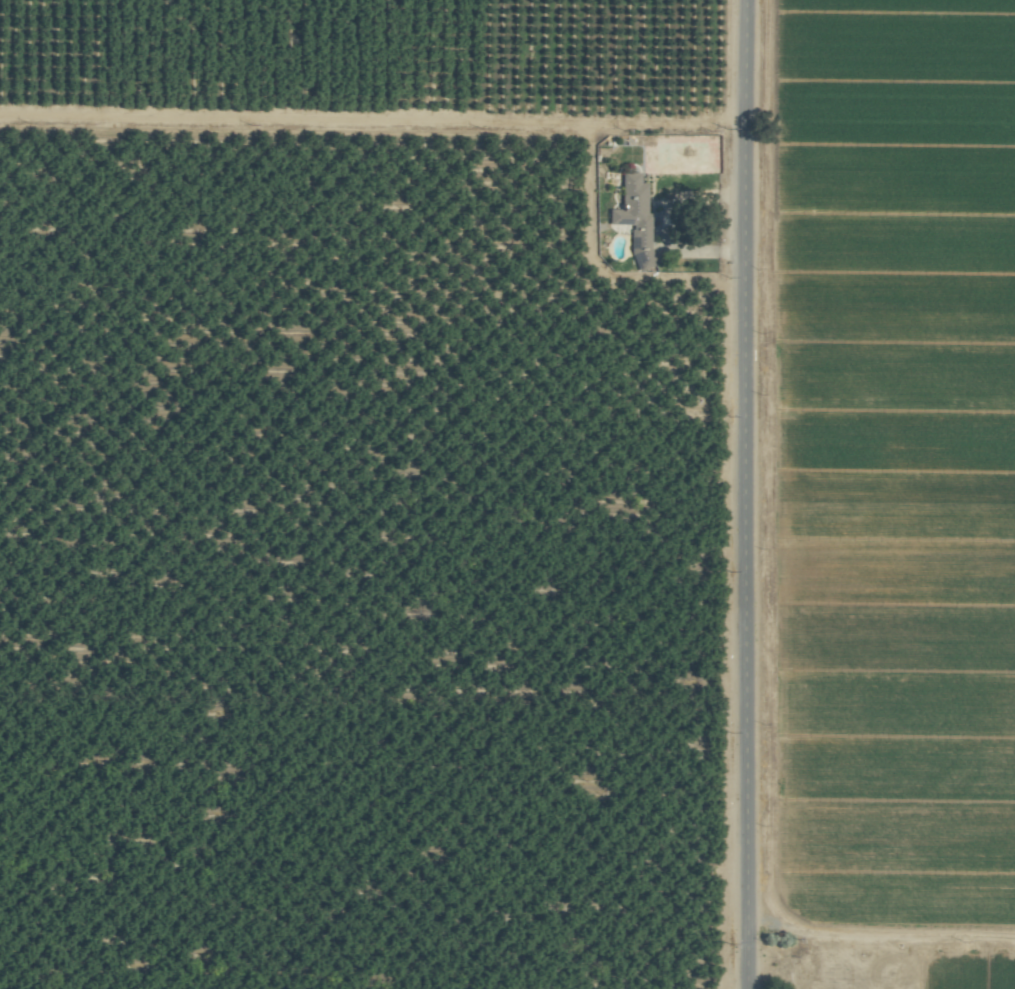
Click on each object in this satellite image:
road: (743, 109)
building: (633, 219)
crop: (507, 494)
road: (747, 604)

